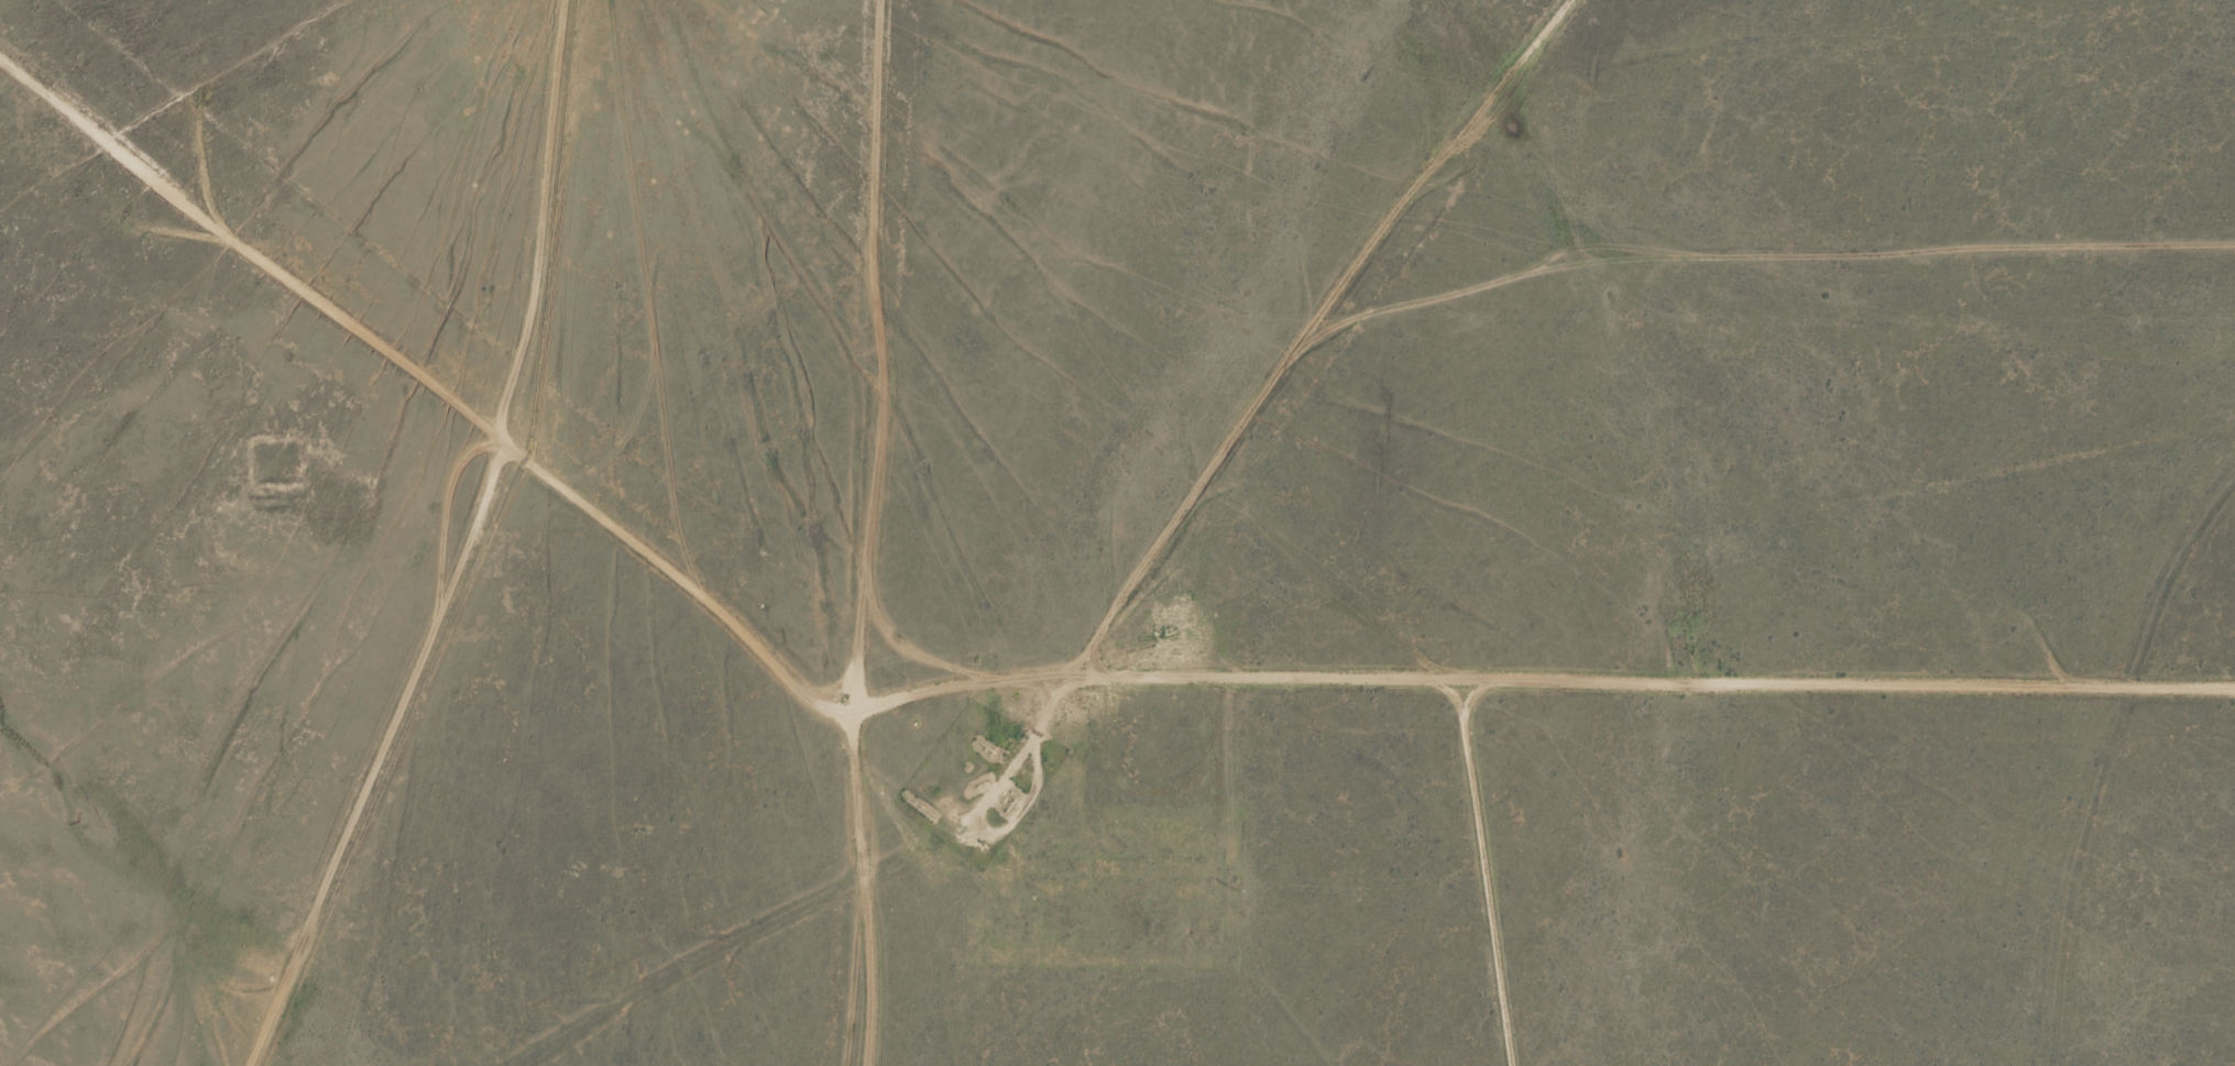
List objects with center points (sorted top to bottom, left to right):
road: (695, 202)
road: (839, 532)
road: (850, 688)
road: (1292, 688)
road: (2106, 751)

